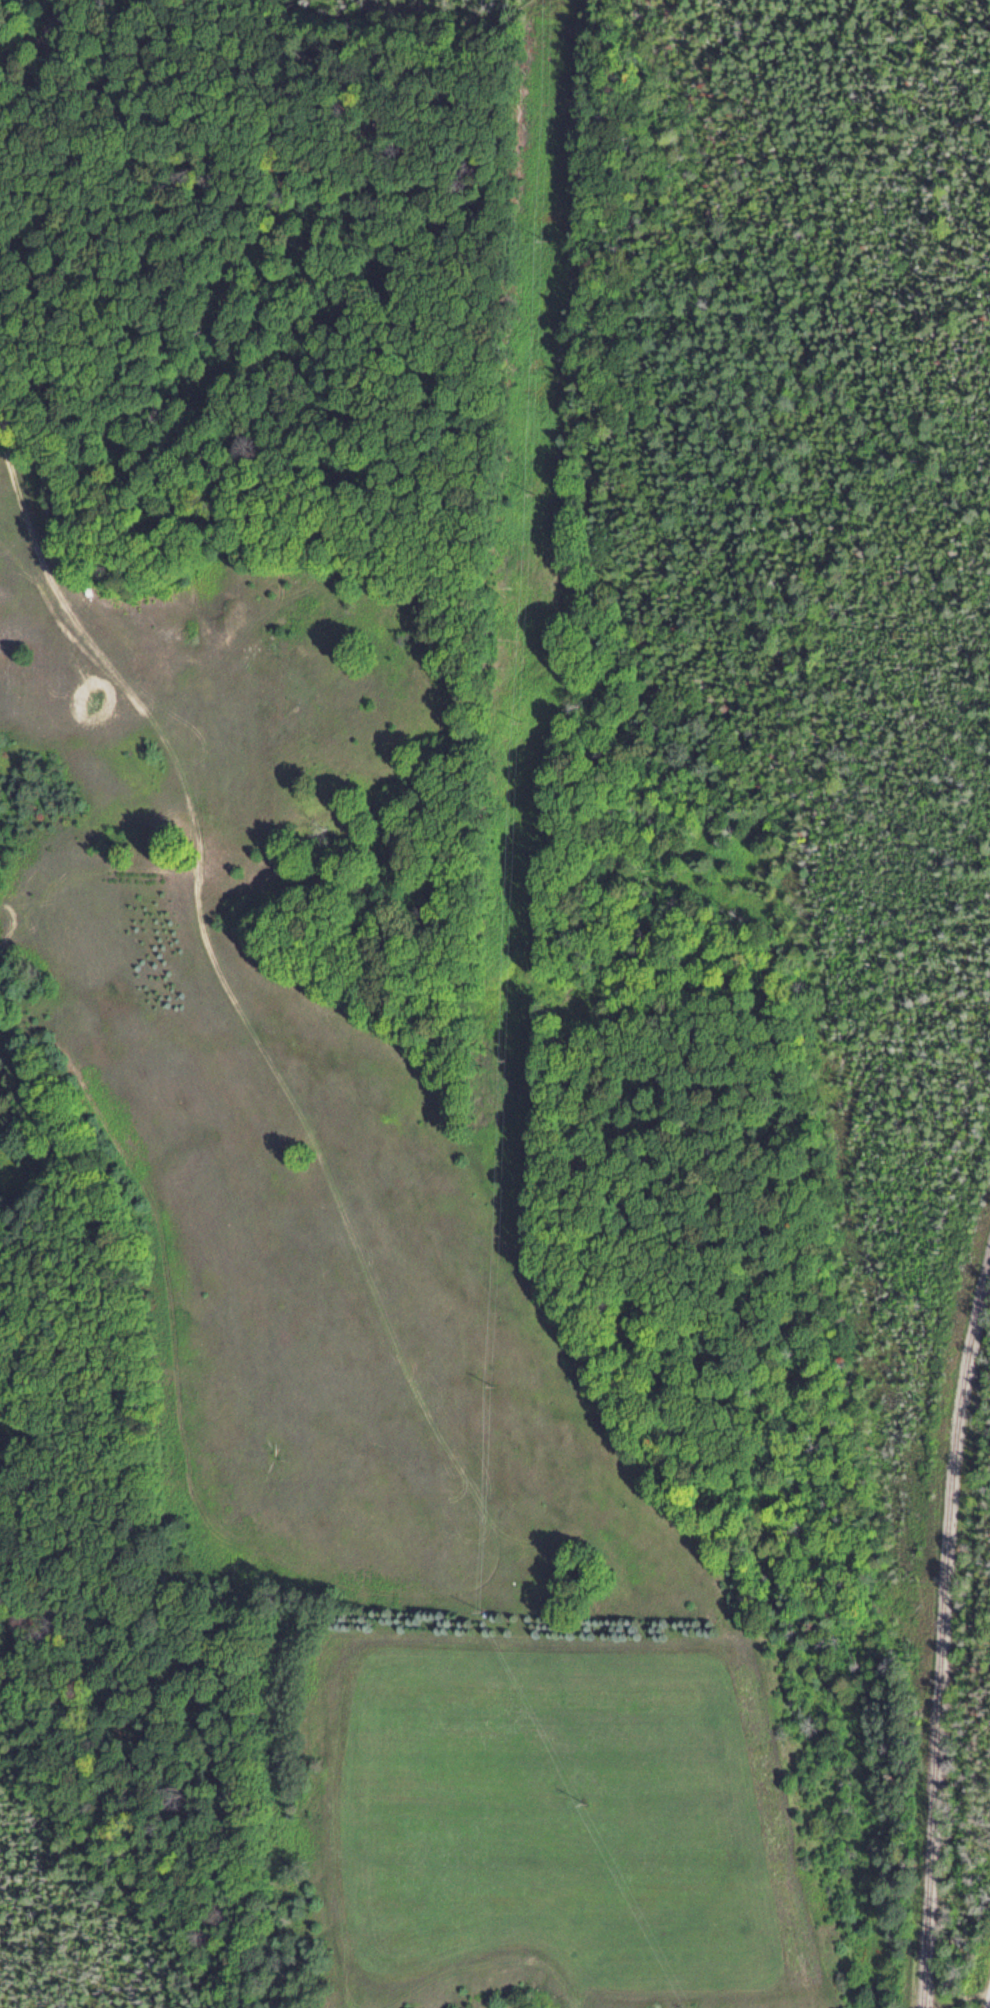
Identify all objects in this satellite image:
railway: (946, 1632)

